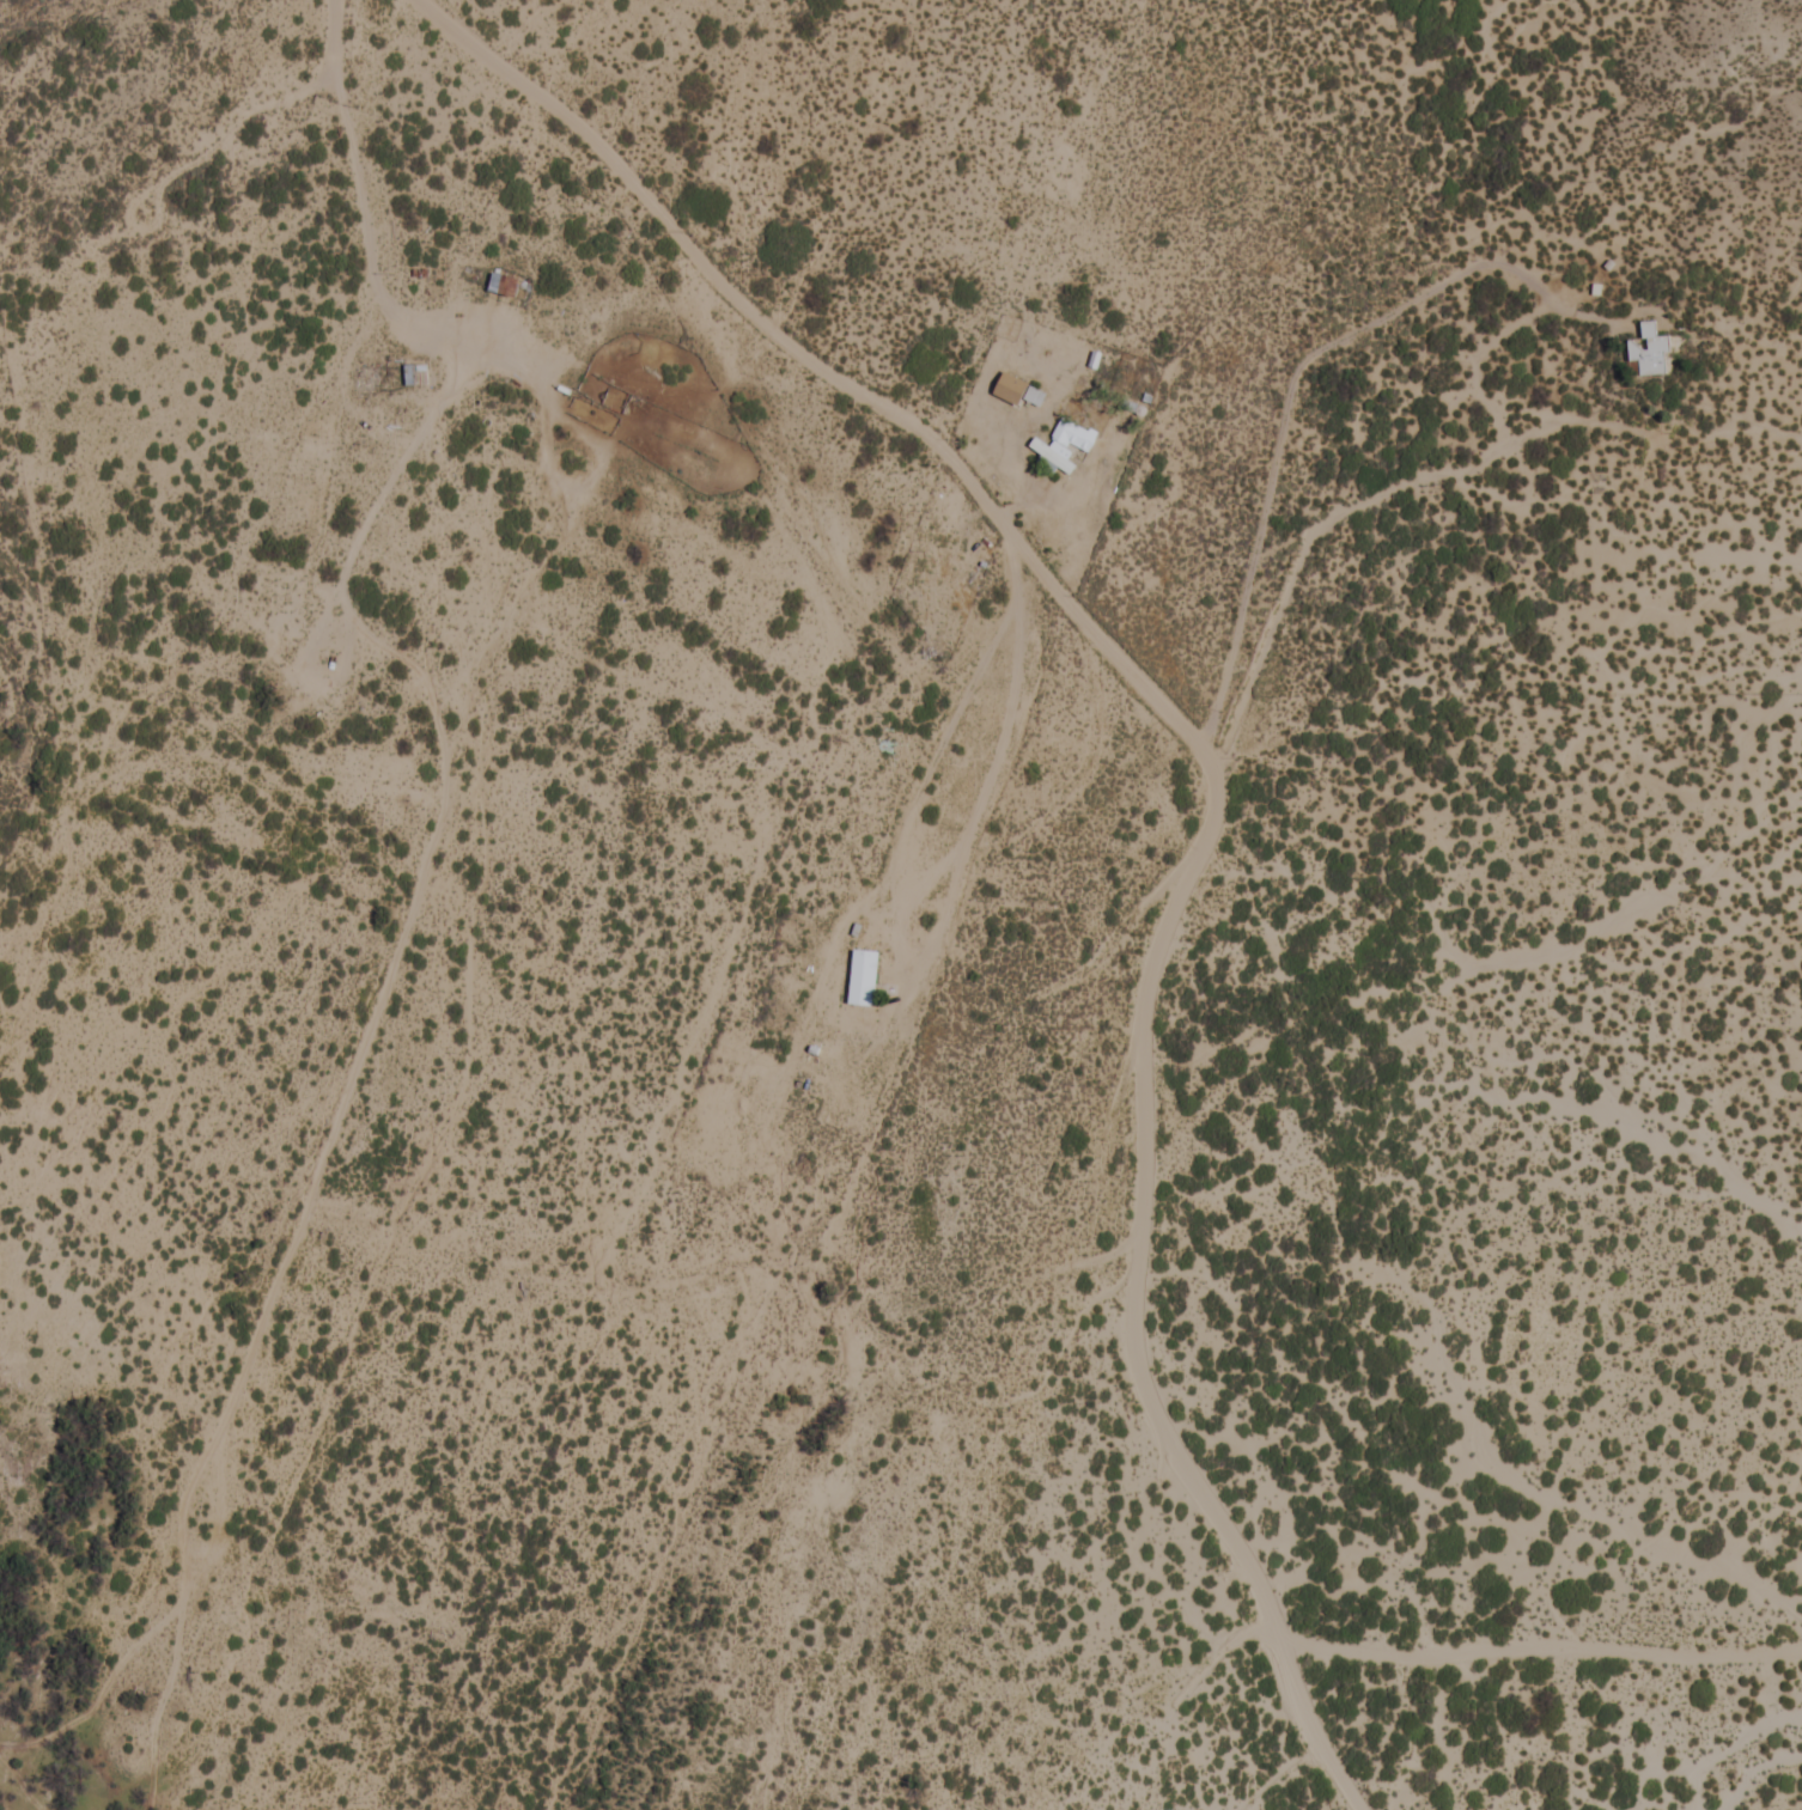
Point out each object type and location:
building: (509, 287)
building: (1648, 353)
building: (414, 377)
building: (1017, 392)
building: (1051, 457)
building: (942, 562)
road: (476, 918)
building: (862, 980)
road: (243, 1387)
road: (106, 1409)

